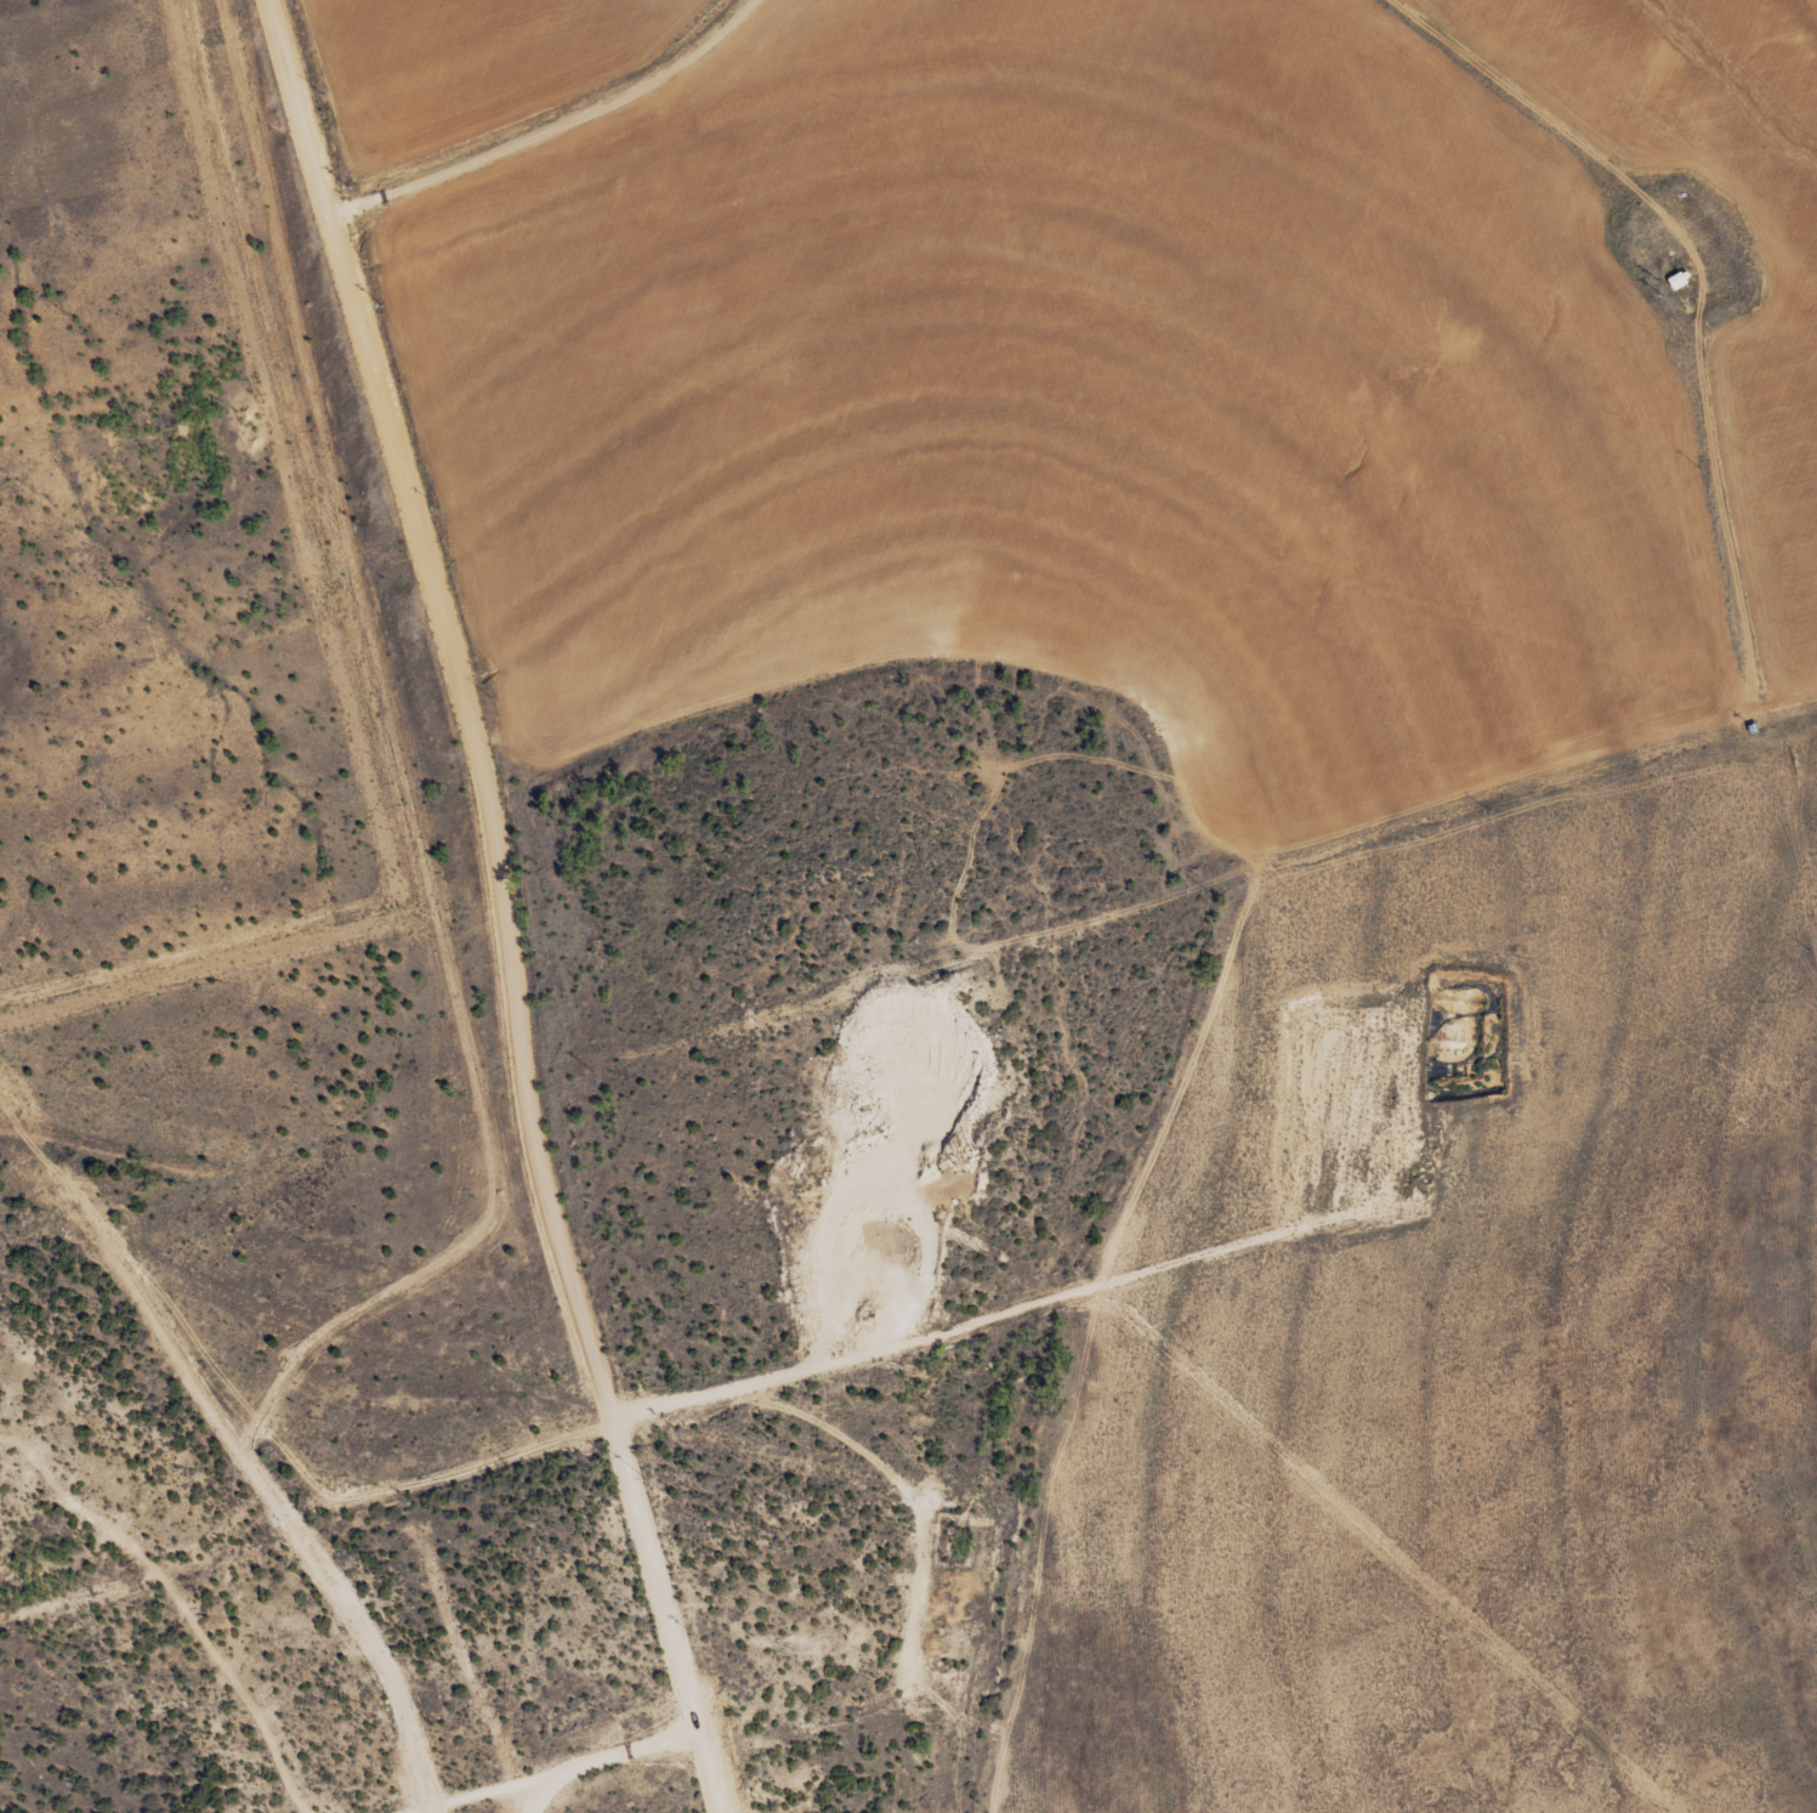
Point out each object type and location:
road: (1643, 162)
road: (492, 906)

